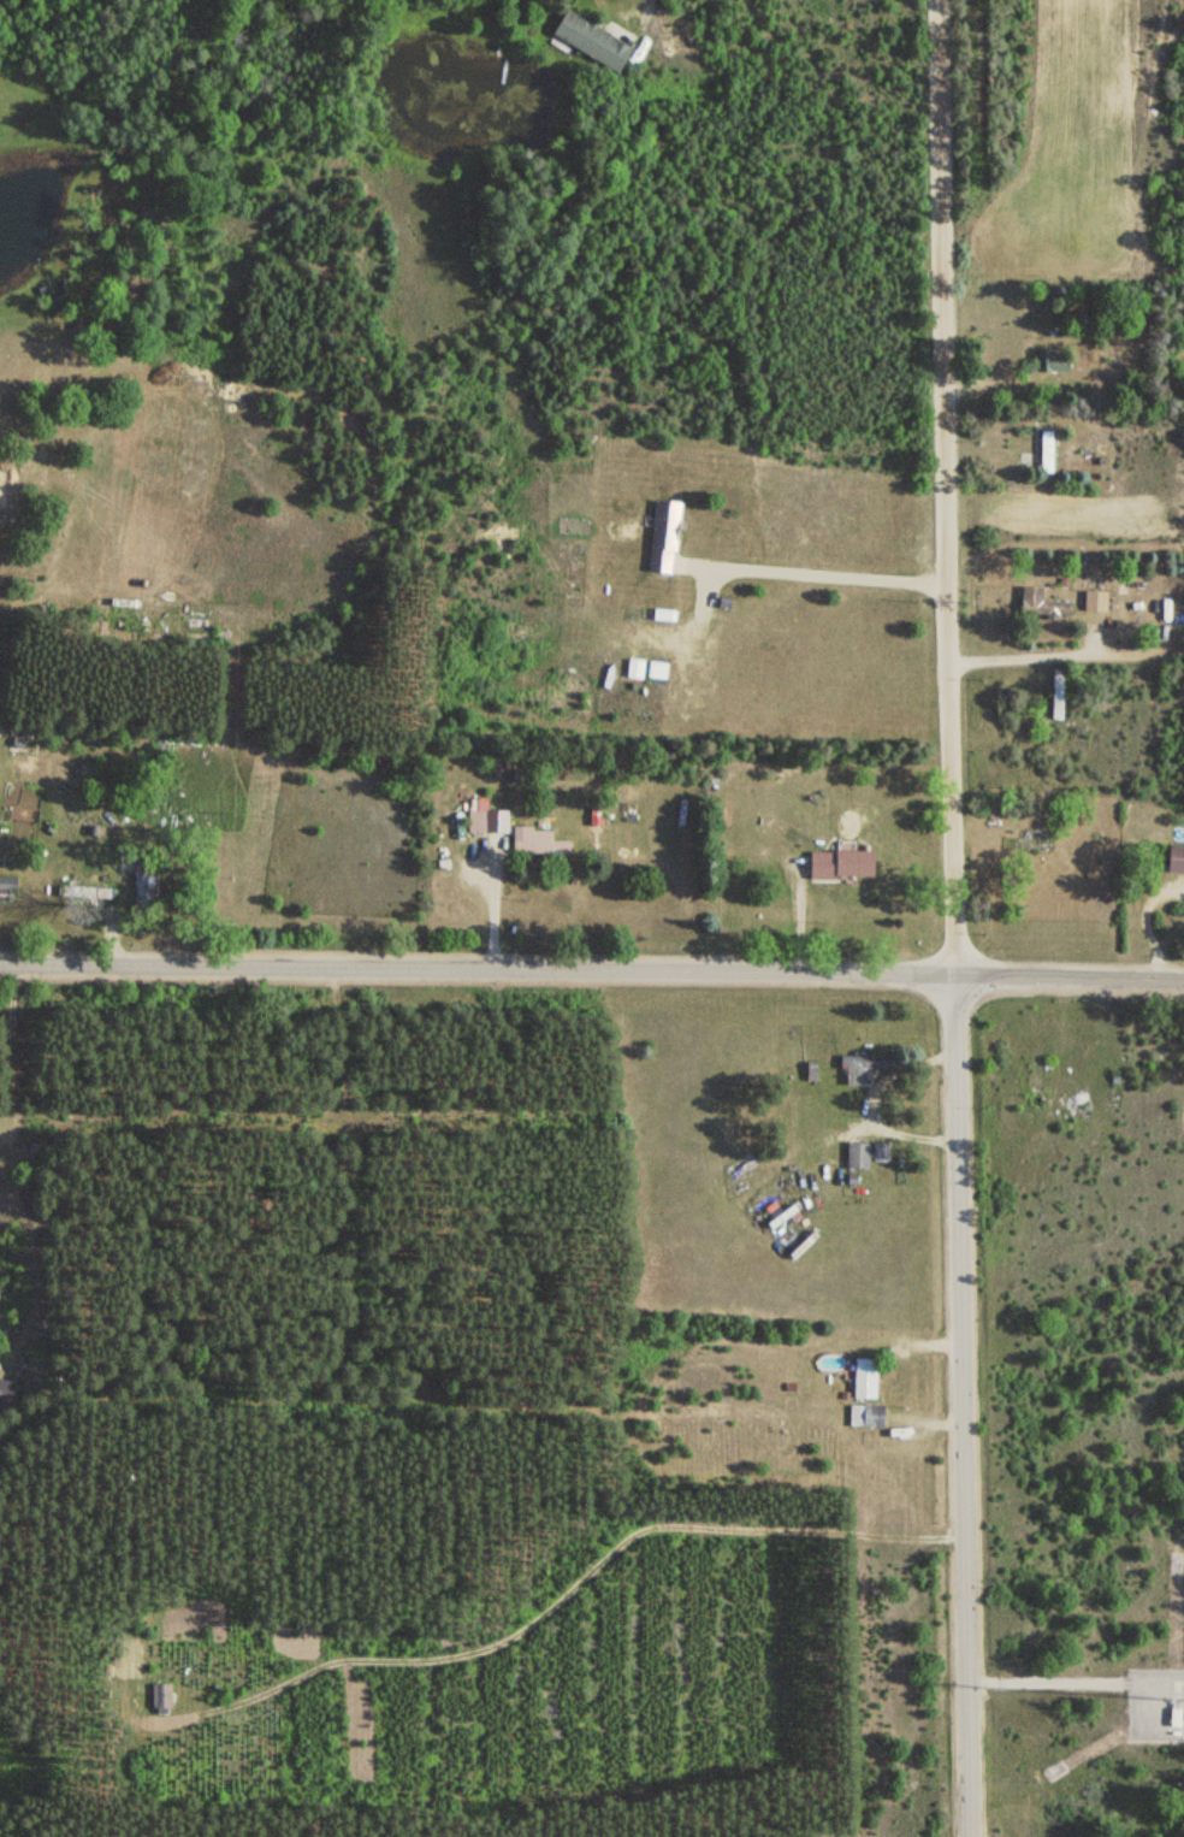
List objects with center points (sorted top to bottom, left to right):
road: (640, 0)
building: (586, 39)
building: (1048, 360)
building: (1042, 451)
road: (943, 486)
building: (661, 537)
road: (813, 569)
building: (1091, 599)
building: (1040, 602)
building: (1054, 693)
building: (485, 821)
building: (534, 843)
building: (1172, 858)
building: (836, 864)
road: (592, 970)
building: (859, 1068)
building: (1034, 1077)
building: (878, 1151)
building: (856, 1154)
building: (862, 1377)
road: (958, 1405)
road: (538, 1407)
building: (865, 1414)
building: (158, 1695)
building: (1171, 1718)

